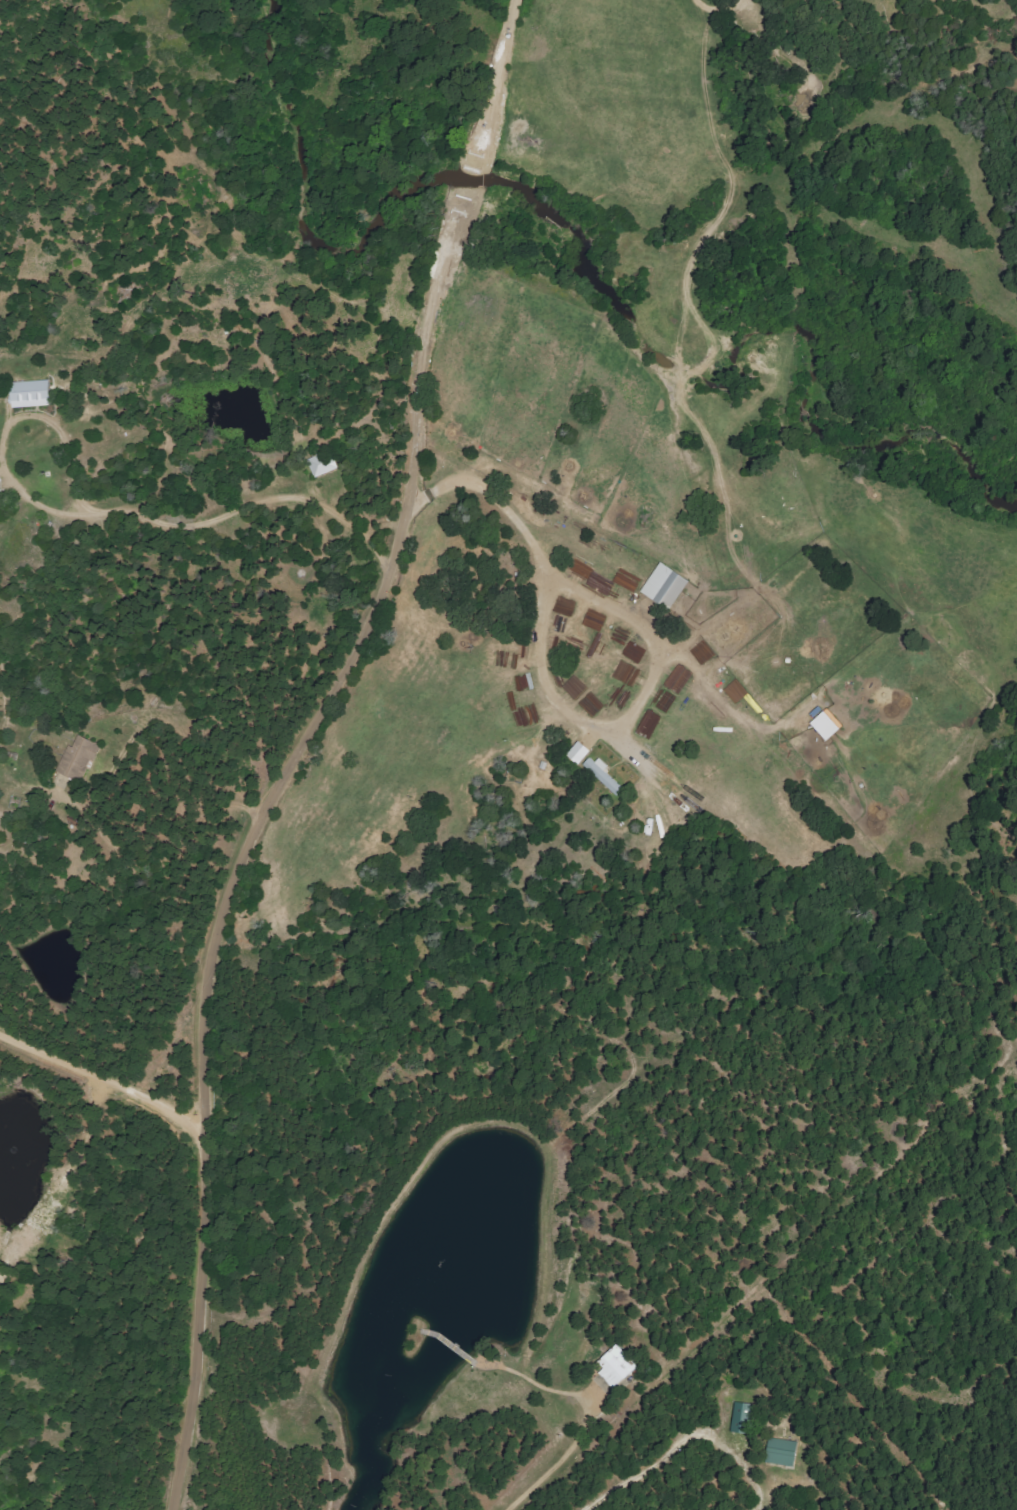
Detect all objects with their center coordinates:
building: (36, 394)
building: (327, 465)
building: (0, 492)
building: (668, 587)
building: (828, 722)
road: (297, 747)
building: (583, 753)
building: (83, 758)
building: (605, 776)
road: (104, 1071)
building: (746, 1418)
building: (787, 1452)

